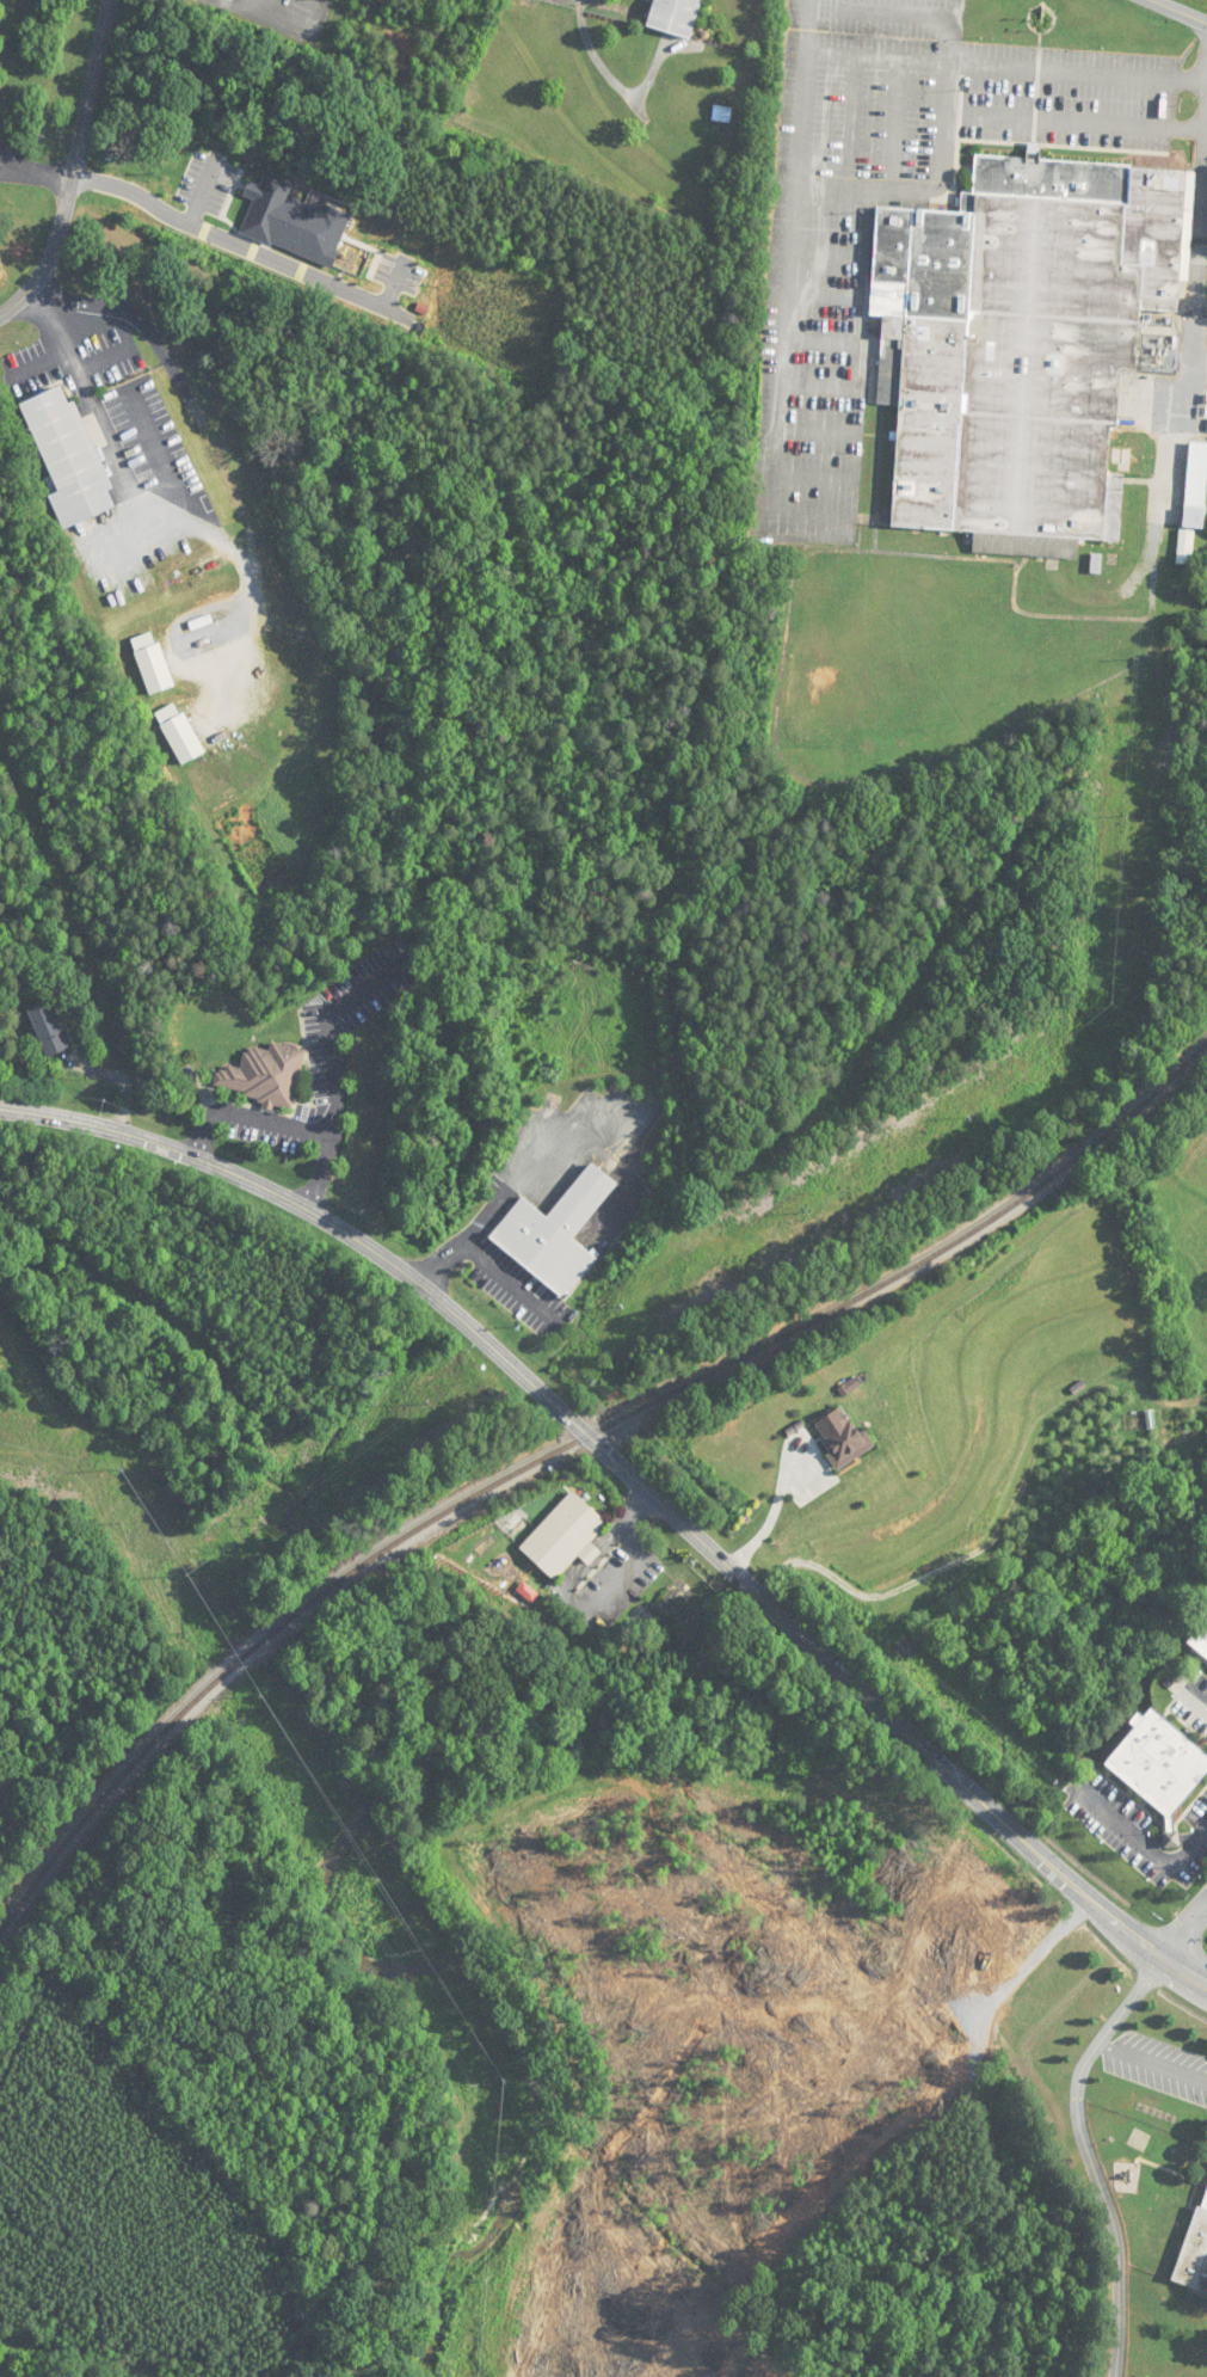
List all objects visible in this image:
road: (1181, 11)
building: (675, 17)
road: (279, 24)
road: (1008, 65)
building: (721, 113)
road: (1086, 122)
road: (891, 123)
road: (944, 161)
road: (76, 165)
road: (11, 168)
road: (35, 182)
road: (230, 240)
road: (795, 262)
building: (1022, 344)
power substation: (1159, 352)
road: (42, 364)
road: (1175, 418)
road: (101, 426)
building: (68, 457)
road: (159, 460)
building: (1195, 486)
building: (1096, 564)
building: (137, 579)
building: (47, 1030)
road: (332, 1033)
building: (264, 1075)
road: (288, 1125)
road: (532, 1163)
building: (555, 1233)
road: (488, 1264)
building: (843, 1437)
railway: (565, 1447)
road: (638, 1481)
road: (772, 1512)
building: (564, 1535)
road: (1188, 1715)
building: (1159, 1765)
road: (1134, 1863)
road: (1184, 1930)
road: (1153, 2062)
road: (1090, 2155)
building: (1196, 2253)

